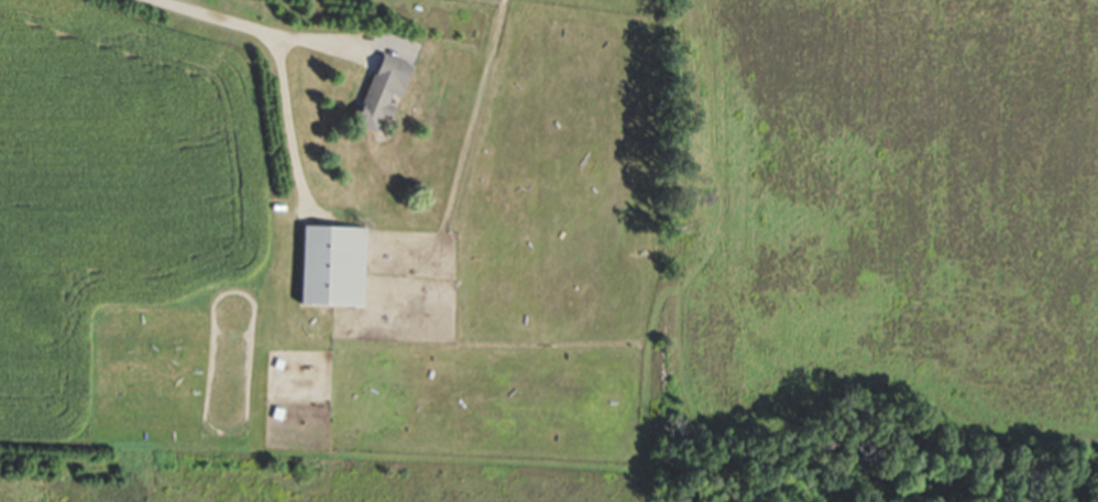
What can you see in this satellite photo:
road: (257, 22)
building: (381, 90)
building: (331, 265)

